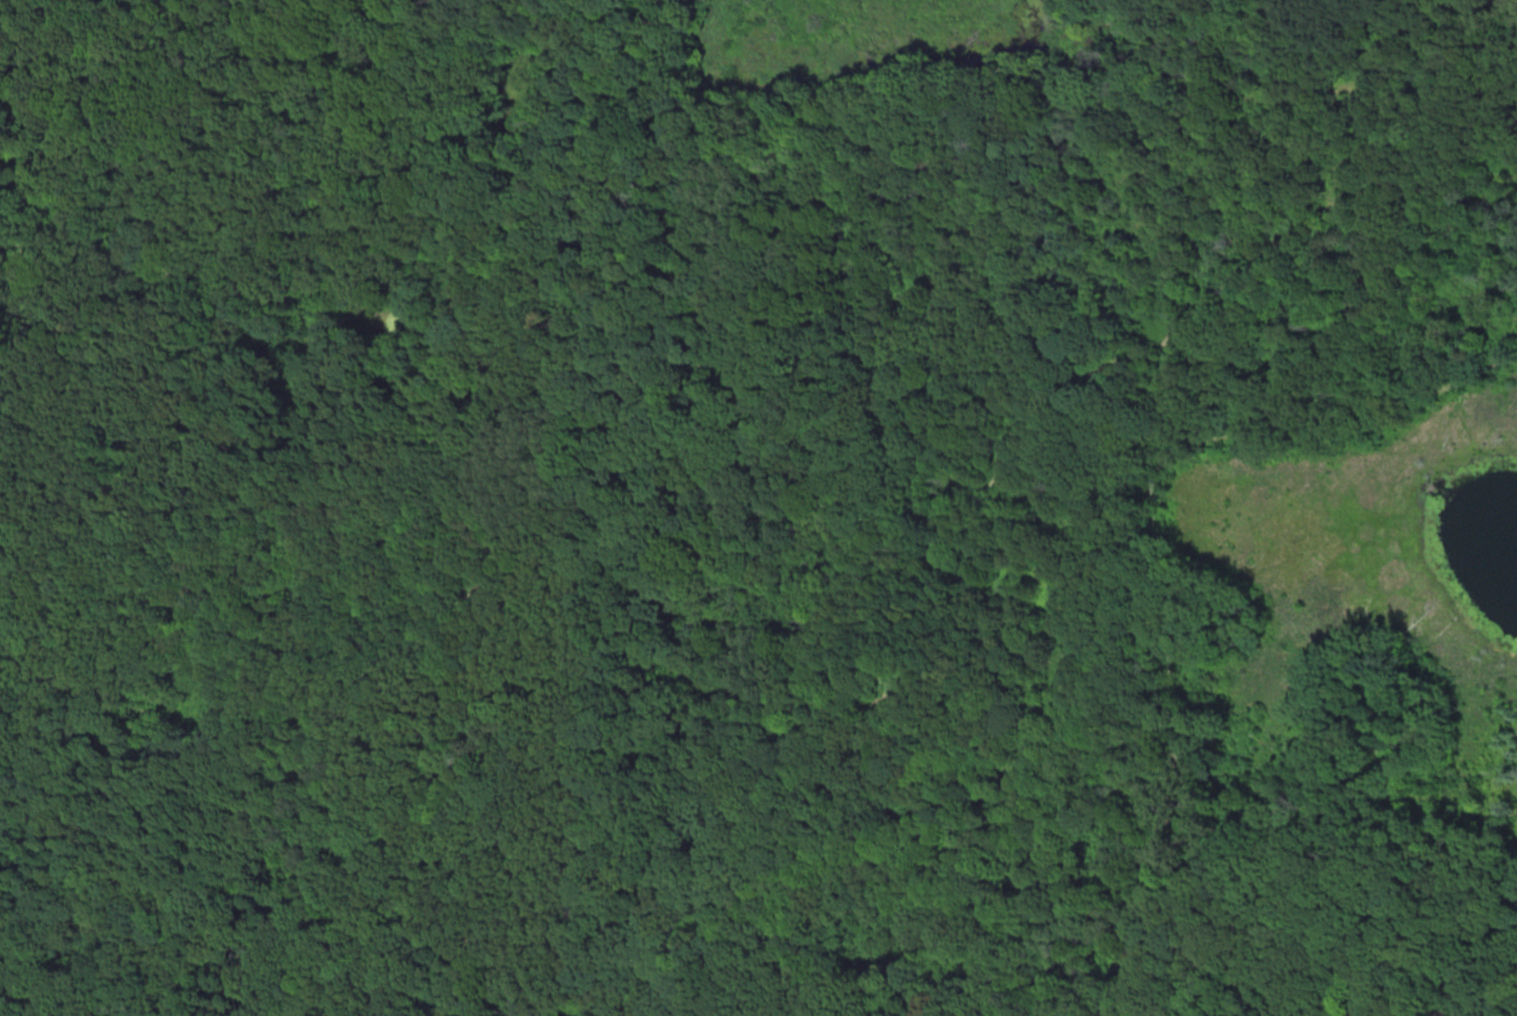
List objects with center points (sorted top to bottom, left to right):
park: (758, 508)

